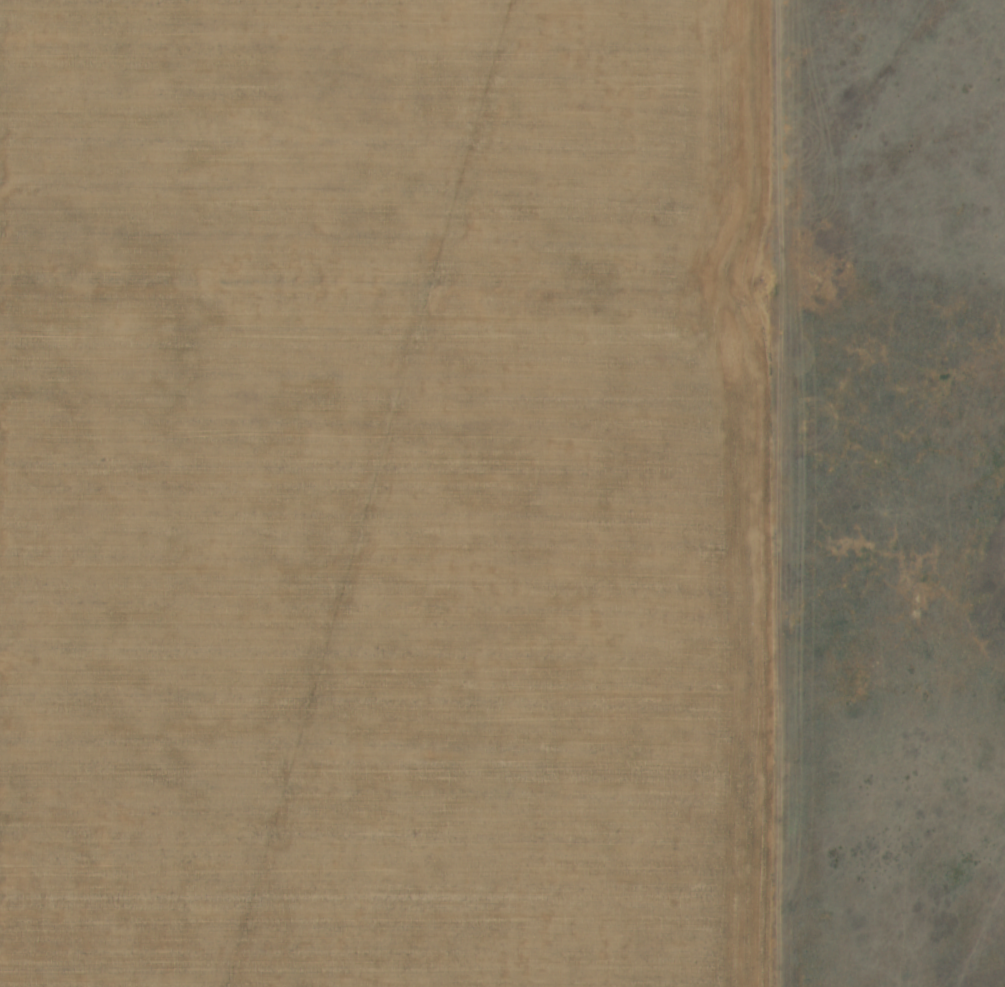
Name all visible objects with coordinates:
road: (855, 571)
road: (983, 942)

